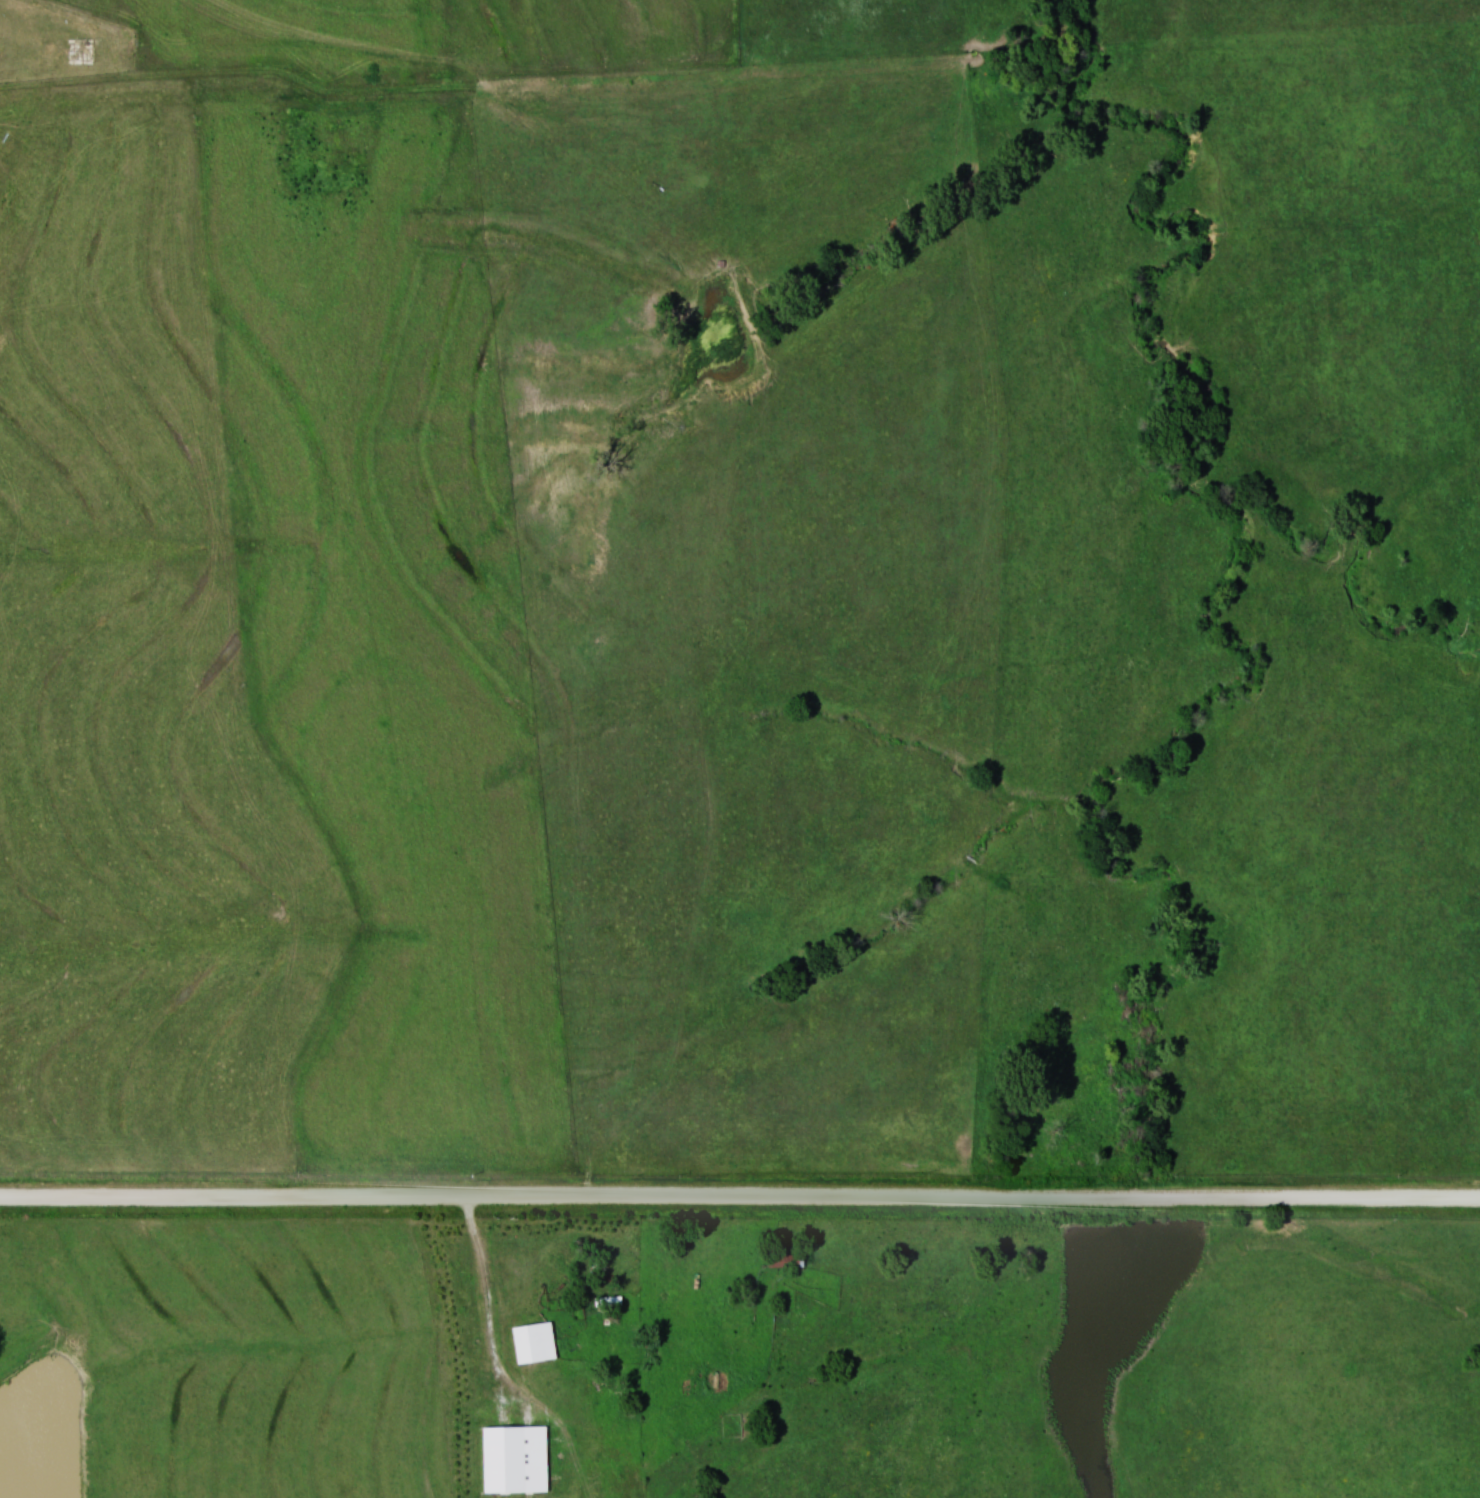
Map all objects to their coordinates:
road: (739, 1197)
building: (787, 1260)
building: (536, 1342)
building: (507, 1459)

